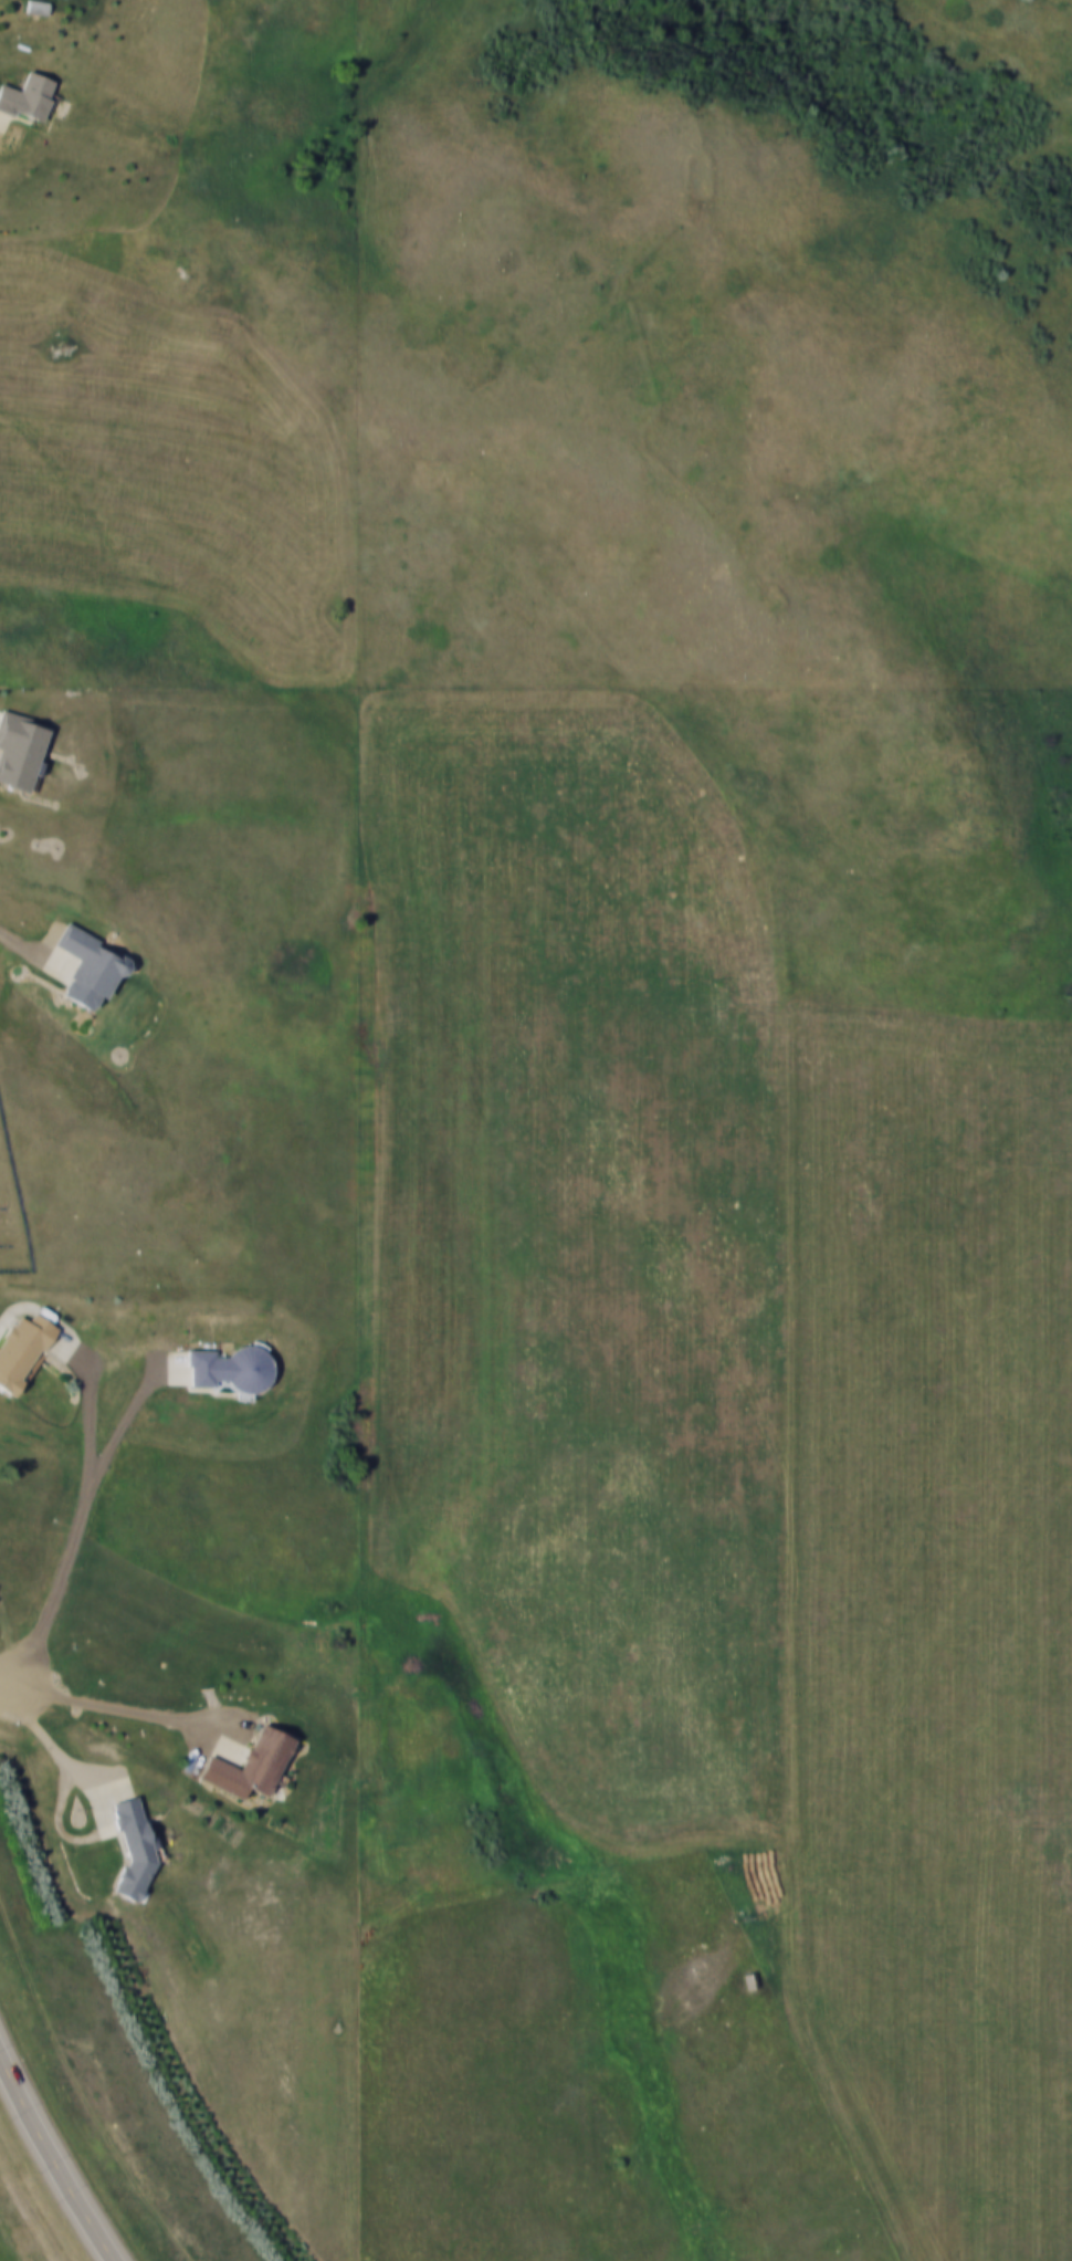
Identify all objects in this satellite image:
building: (39, 7)
building: (29, 96)
building: (21, 751)
road: (18, 925)
building: (91, 970)
building: (23, 1350)
building: (230, 1368)
road: (73, 1532)
building: (253, 1763)
building: (135, 1846)
road: (827, 2072)
road: (54, 2157)

